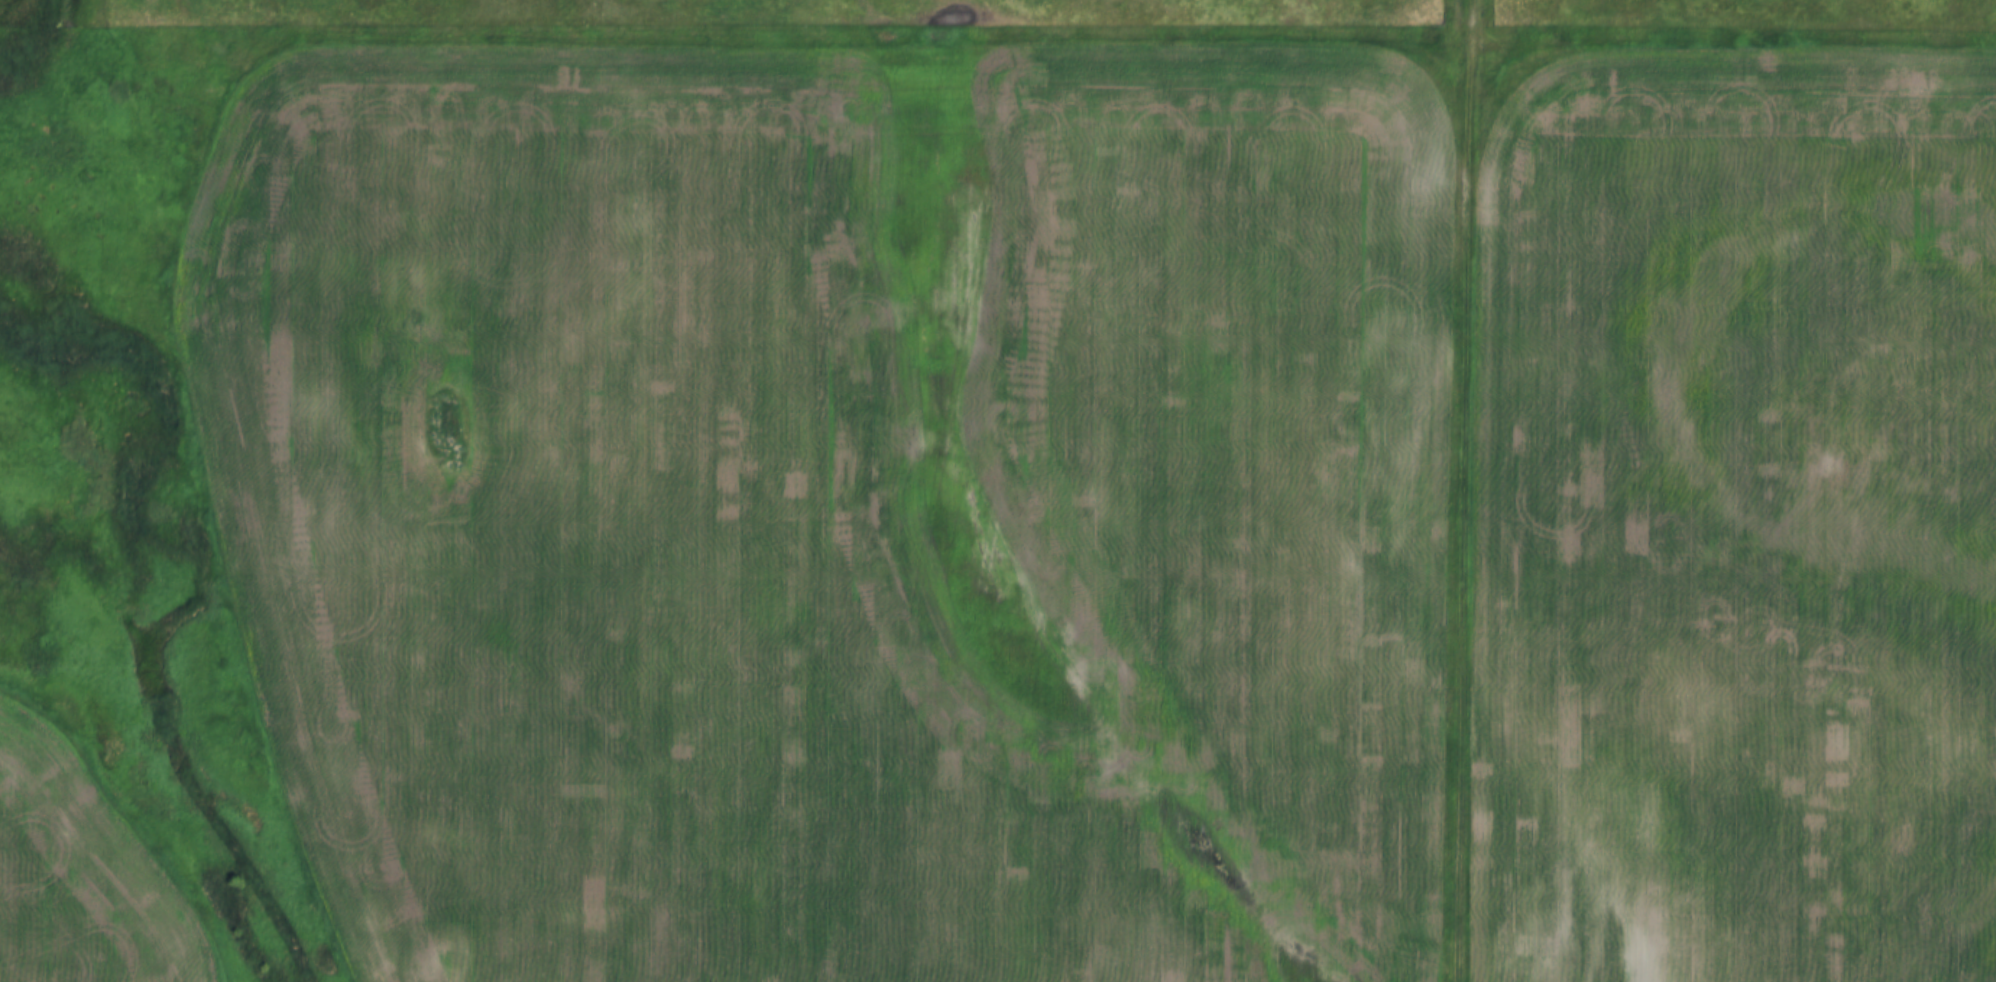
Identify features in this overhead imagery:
road: (1479, 14)

